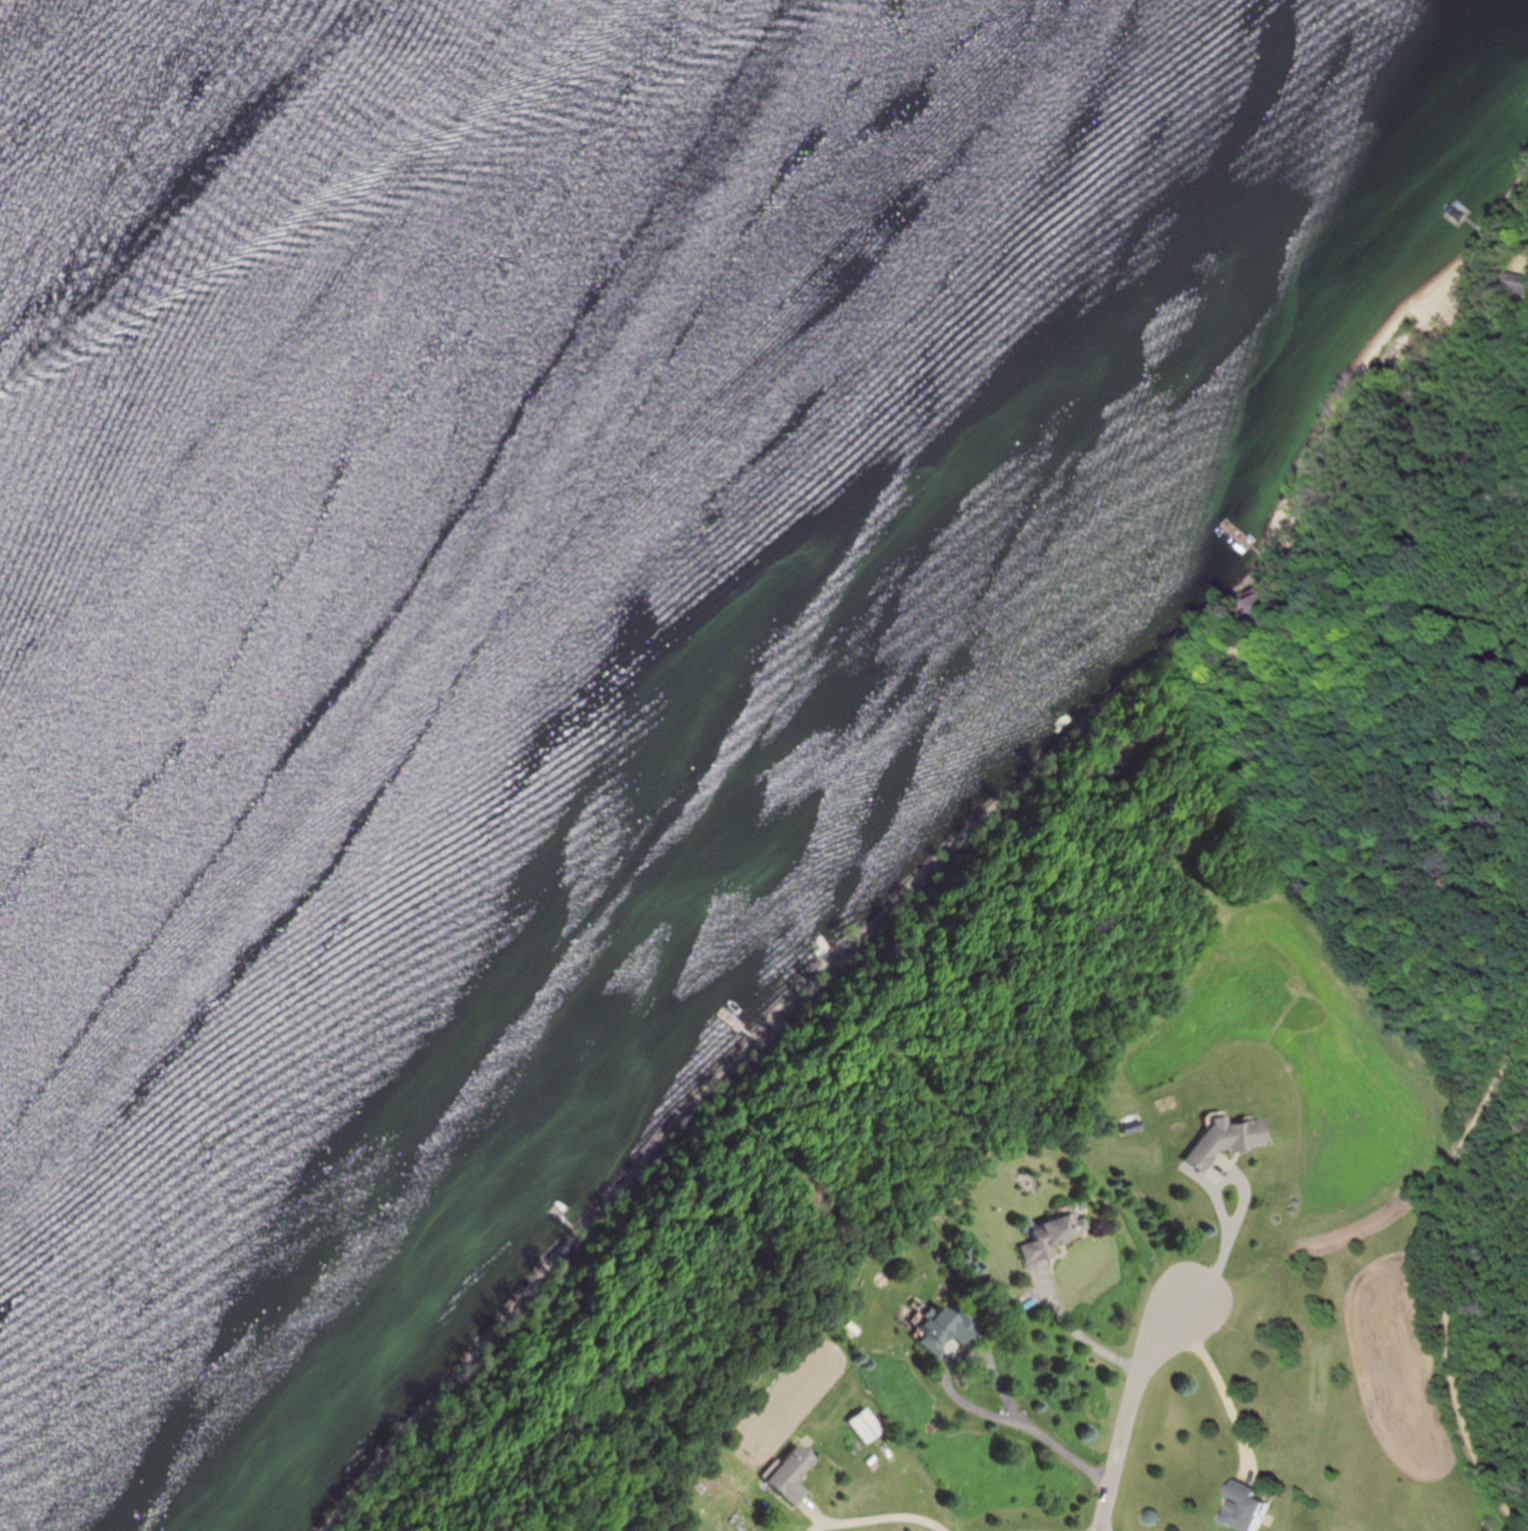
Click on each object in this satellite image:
river: (423, 488)
building: (1219, 1140)
road: (1242, 1206)
building: (1050, 1232)
building: (940, 1330)
road: (1084, 1338)
road: (1224, 1390)
road: (1134, 1417)
road: (1023, 1424)
building: (862, 1426)
building: (784, 1473)
road: (890, 1516)

